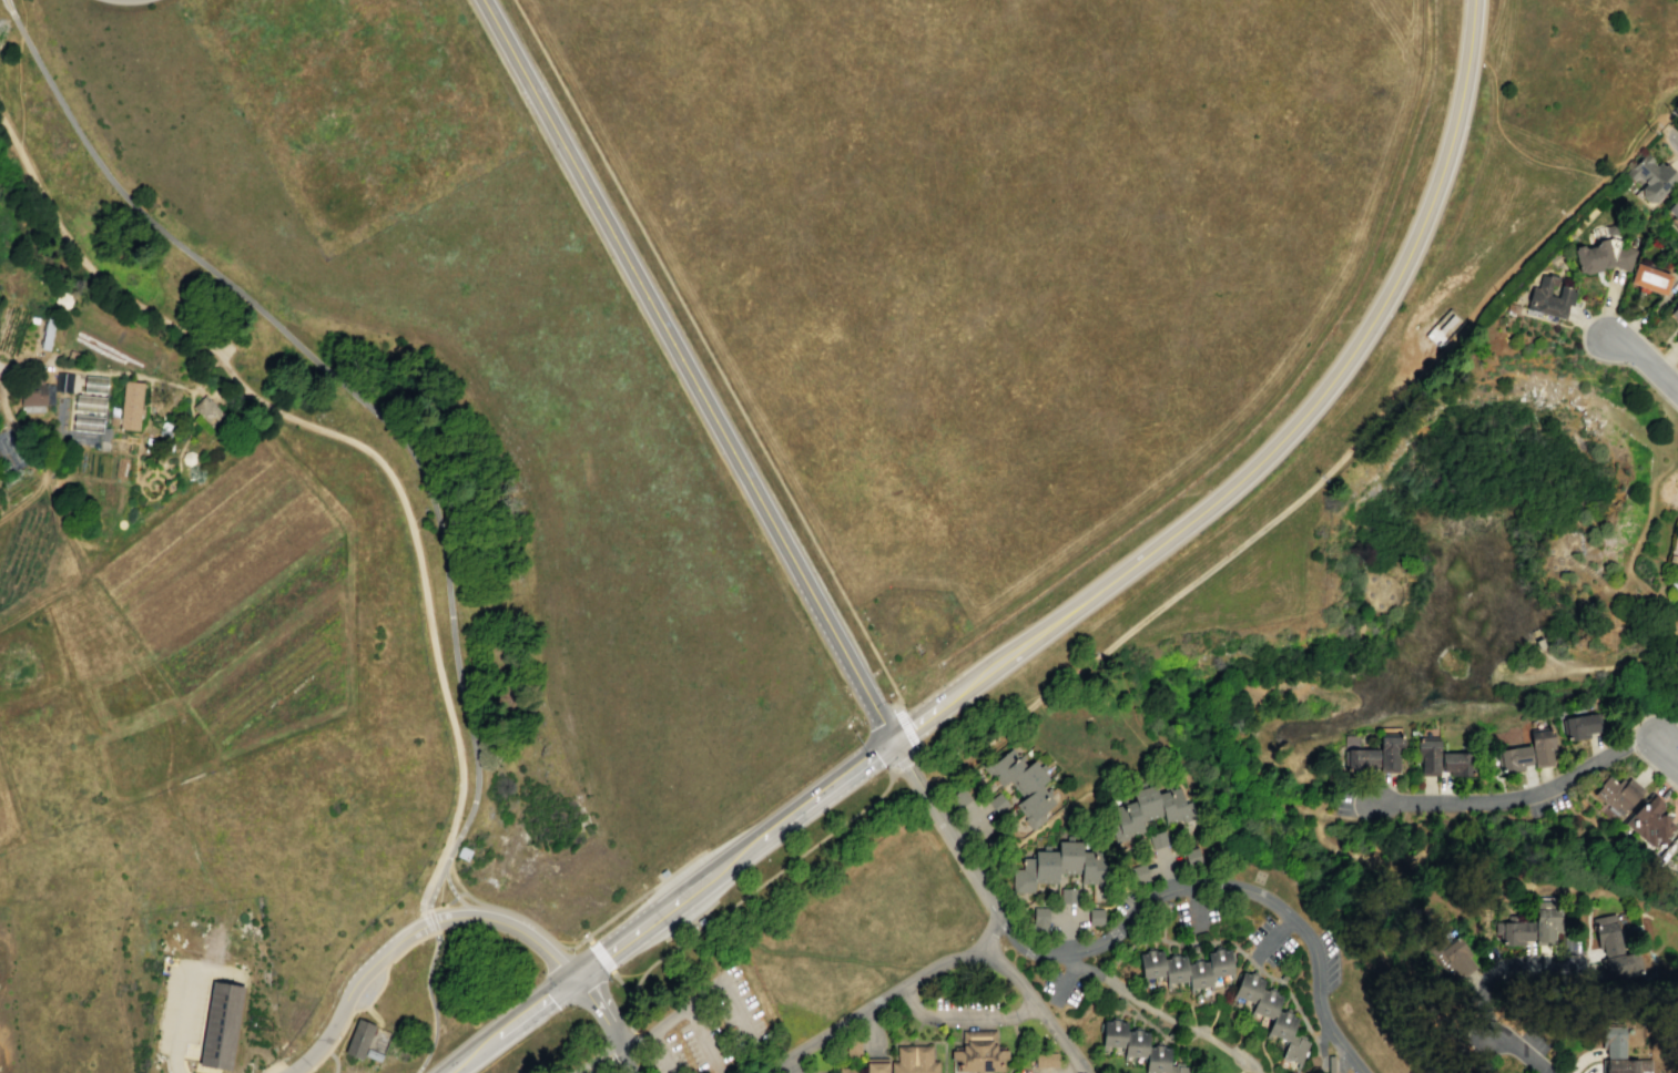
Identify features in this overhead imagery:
road: (18, 76)
road: (1671, 110)
road: (546, 116)
road: (1671, 123)
road: (1662, 135)
road: (1506, 145)
road: (1638, 146)
building: (1651, 178)
road: (1586, 203)
building: (1674, 208)
building: (1610, 229)
building: (1604, 256)
building: (1649, 278)
building: (62, 299)
building: (1548, 299)
road: (1608, 305)
building: (1512, 308)
road: (1604, 313)
building: (1675, 313)
road: (1373, 318)
power substation: (1442, 327)
building: (48, 334)
road: (1646, 340)
building: (1676, 340)
parking lot: (218, 343)
road: (708, 354)
building: (71, 355)
road: (1616, 361)
road: (1644, 361)
road: (93, 370)
building: (94, 384)
building: (63, 385)
road: (346, 386)
building: (33, 391)
road: (1282, 395)
building: (90, 406)
building: (130, 406)
building: (207, 412)
building: (84, 425)
road: (139, 431)
road: (22, 433)
road: (354, 442)
building: (187, 458)
road: (159, 470)
road: (154, 473)
road: (143, 483)
road: (751, 487)
quarry: (1469, 498)
road: (21, 502)
crop: (164, 502)
road: (1258, 528)
road: (1636, 543)
crop: (26, 551)
building: (1677, 578)
road: (87, 586)
road: (1619, 590)
park: (1441, 635)
building: (1542, 643)
road: (1016, 648)
road: (1555, 661)
road: (1589, 664)
road: (146, 688)
road: (1647, 698)
street lamp: (899, 703)
road: (1228, 708)
building: (1582, 726)
road: (905, 728)
road: (972, 737)
traffic signals: (892, 739)
road: (1630, 740)
building: (1540, 747)
road: (915, 752)
building: (1374, 756)
building: (1427, 757)
building: (1515, 758)
road: (904, 762)
building: (1455, 763)
building: (1023, 784)
road: (820, 793)
road: (1542, 795)
building: (1617, 795)
road: (897, 801)
building: (1147, 810)
crop: (10, 814)
road: (975, 819)
road: (967, 821)
building: (1650, 821)
road: (1034, 831)
road: (940, 836)
road: (1463, 836)
building: (1158, 839)
building: (462, 852)
building: (1191, 856)
road: (1355, 856)
road: (441, 862)
building: (1060, 867)
building: (1138, 872)
road: (210, 881)
road: (434, 888)
road: (753, 889)
road: (455, 893)
road: (681, 896)
building: (1067, 896)
road: (1193, 906)
parking lot: (1196, 912)
building: (1095, 916)
road: (1067, 917)
building: (1039, 918)
road: (1162, 918)
road: (431, 919)
road: (425, 920)
road: (435, 920)
road: (1127, 921)
building: (1544, 922)
road: (991, 929)
road: (1070, 930)
building: (1514, 931)
road: (529, 937)
road: (566, 941)
road: (1272, 941)
road: (1224, 942)
parking lot: (1328, 944)
road: (567, 948)
building: (1613, 949)
road: (598, 953)
road: (806, 953)
building: (1452, 958)
road: (1521, 959)
road: (593, 961)
road: (1488, 961)
road: (905, 964)
building: (1184, 968)
road: (1065, 975)
parking lot: (1081, 975)
traffic signals: (573, 978)
road: (226, 982)
parking lot: (377, 982)
parking lot: (1321, 989)
parking lot: (368, 990)
road: (183, 993)
parking lot: (967, 995)
parking lot: (185, 1000)
road: (369, 1000)
road: (430, 1002)
road: (873, 1005)
road: (343, 1006)
road: (1038, 1009)
road: (1416, 1011)
road: (741, 1012)
road: (1159, 1013)
building: (1270, 1014)
road: (374, 1015)
road: (962, 1018)
road: (608, 1021)
road: (509, 1024)
road: (1151, 1024)
building: (220, 1025)
road: (872, 1026)
parking lot: (705, 1030)
road: (914, 1031)
road: (655, 1032)
road: (200, 1033)
building: (358, 1039)
road: (704, 1040)
road: (1321, 1041)
road: (935, 1042)
parking lot: (1537, 1042)
road: (1016, 1044)
parking lot: (700, 1046)
building: (1137, 1046)
road: (943, 1050)
road: (665, 1052)
building: (978, 1052)
building: (1619, 1053)
building: (373, 1054)
road: (600, 1060)
road: (334, 1061)
building: (904, 1061)
building: (1046, 1061)
road: (791, 1065)
road: (201, 1069)
road: (1242, 1069)
road: (1252, 1069)
building: (847, 1070)

